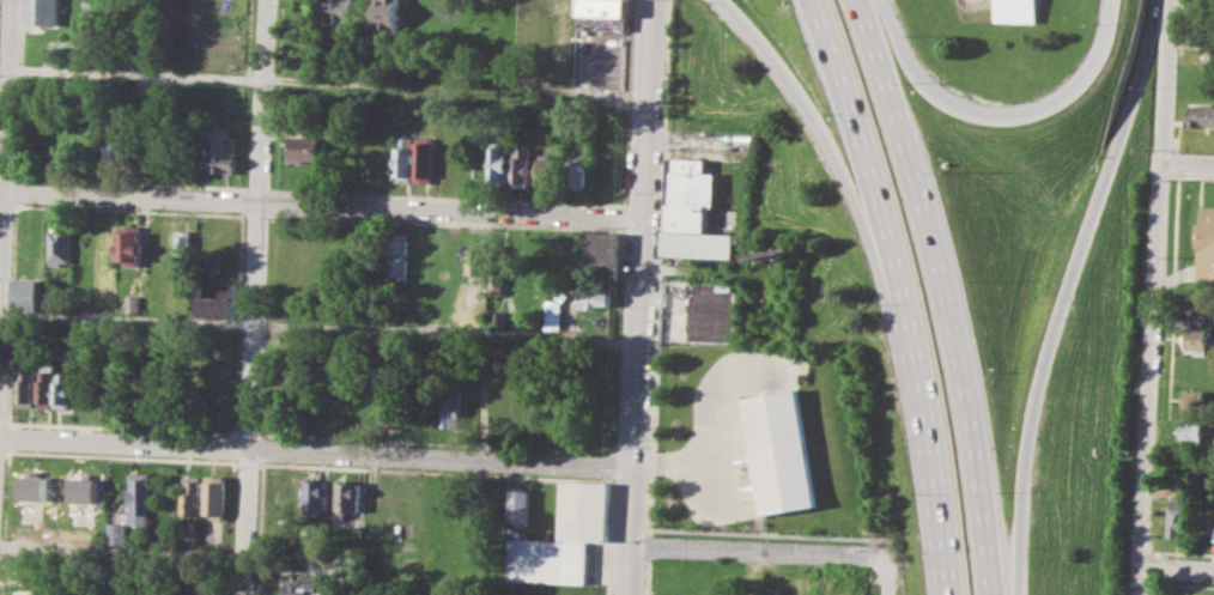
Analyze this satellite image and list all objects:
building: (1015, 10)
building: (607, 12)
building: (47, 13)
building: (340, 13)
building: (386, 16)
building: (1208, 51)
road: (327, 81)
building: (1201, 115)
road: (1001, 116)
road: (819, 122)
road: (700, 123)
road: (854, 130)
building: (220, 148)
building: (121, 150)
building: (309, 150)
road: (5, 156)
building: (402, 158)
building: (423, 160)
road: (1189, 164)
building: (497, 165)
building: (520, 165)
building: (577, 174)
building: (688, 182)
road: (323, 204)
building: (684, 217)
building: (699, 242)
building: (60, 243)
building: (129, 243)
building: (1206, 249)
building: (601, 250)
building: (186, 253)
building: (399, 255)
building: (486, 266)
road: (1061, 291)
building: (30, 292)
road: (939, 293)
road: (257, 297)
road: (644, 297)
road: (1157, 297)
building: (216, 298)
building: (590, 298)
building: (132, 303)
building: (1201, 309)
building: (551, 314)
road: (321, 326)
building: (1197, 340)
building: (23, 384)
building: (44, 384)
building: (62, 389)
building: (114, 395)
building: (1194, 397)
building: (371, 407)
building: (451, 407)
building: (393, 411)
road: (710, 418)
road: (921, 427)
building: (1192, 430)
parking lot: (730, 432)
building: (782, 451)
road: (318, 453)
building: (32, 487)
building: (81, 490)
building: (190, 494)
building: (315, 494)
building: (213, 496)
building: (138, 498)
building: (347, 499)
building: (518, 504)
building: (1178, 515)
building: (115, 533)
building: (562, 538)
road: (760, 551)
road: (122, 553)
road: (1179, 570)
building: (684, 576)
road: (887, 582)
building: (309, 587)

